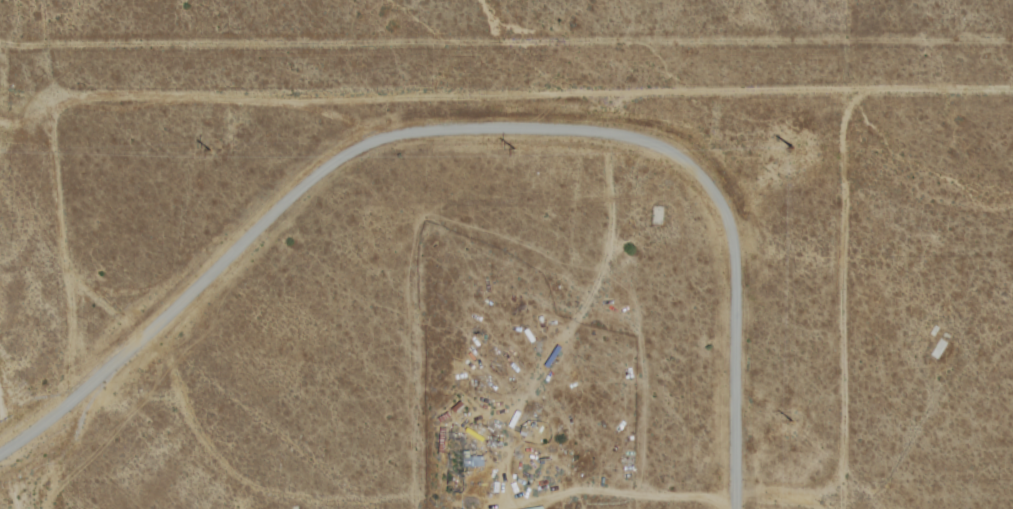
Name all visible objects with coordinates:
road: (529, 86)
building: (235, 130)
power tower: (795, 151)
building: (940, 351)
building: (150, 376)
building: (470, 461)

